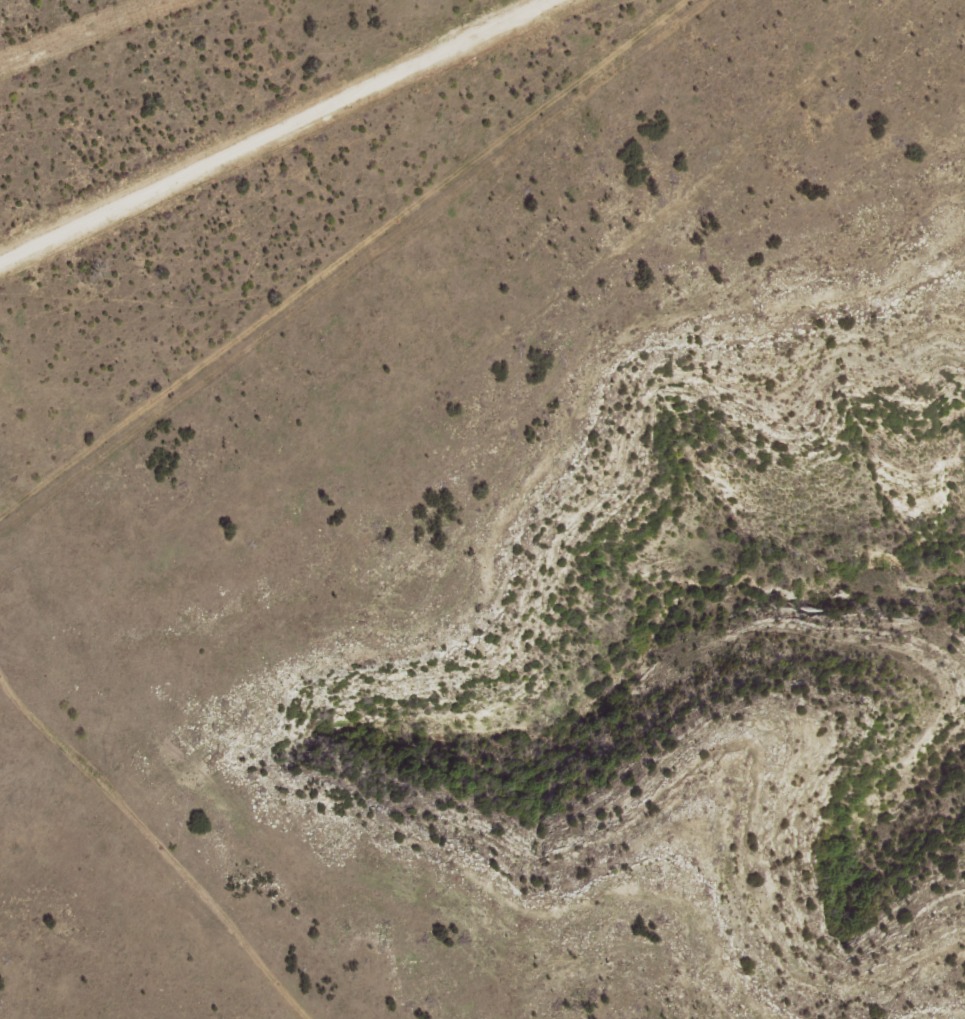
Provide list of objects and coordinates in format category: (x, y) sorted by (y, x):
road: (165, 809)

